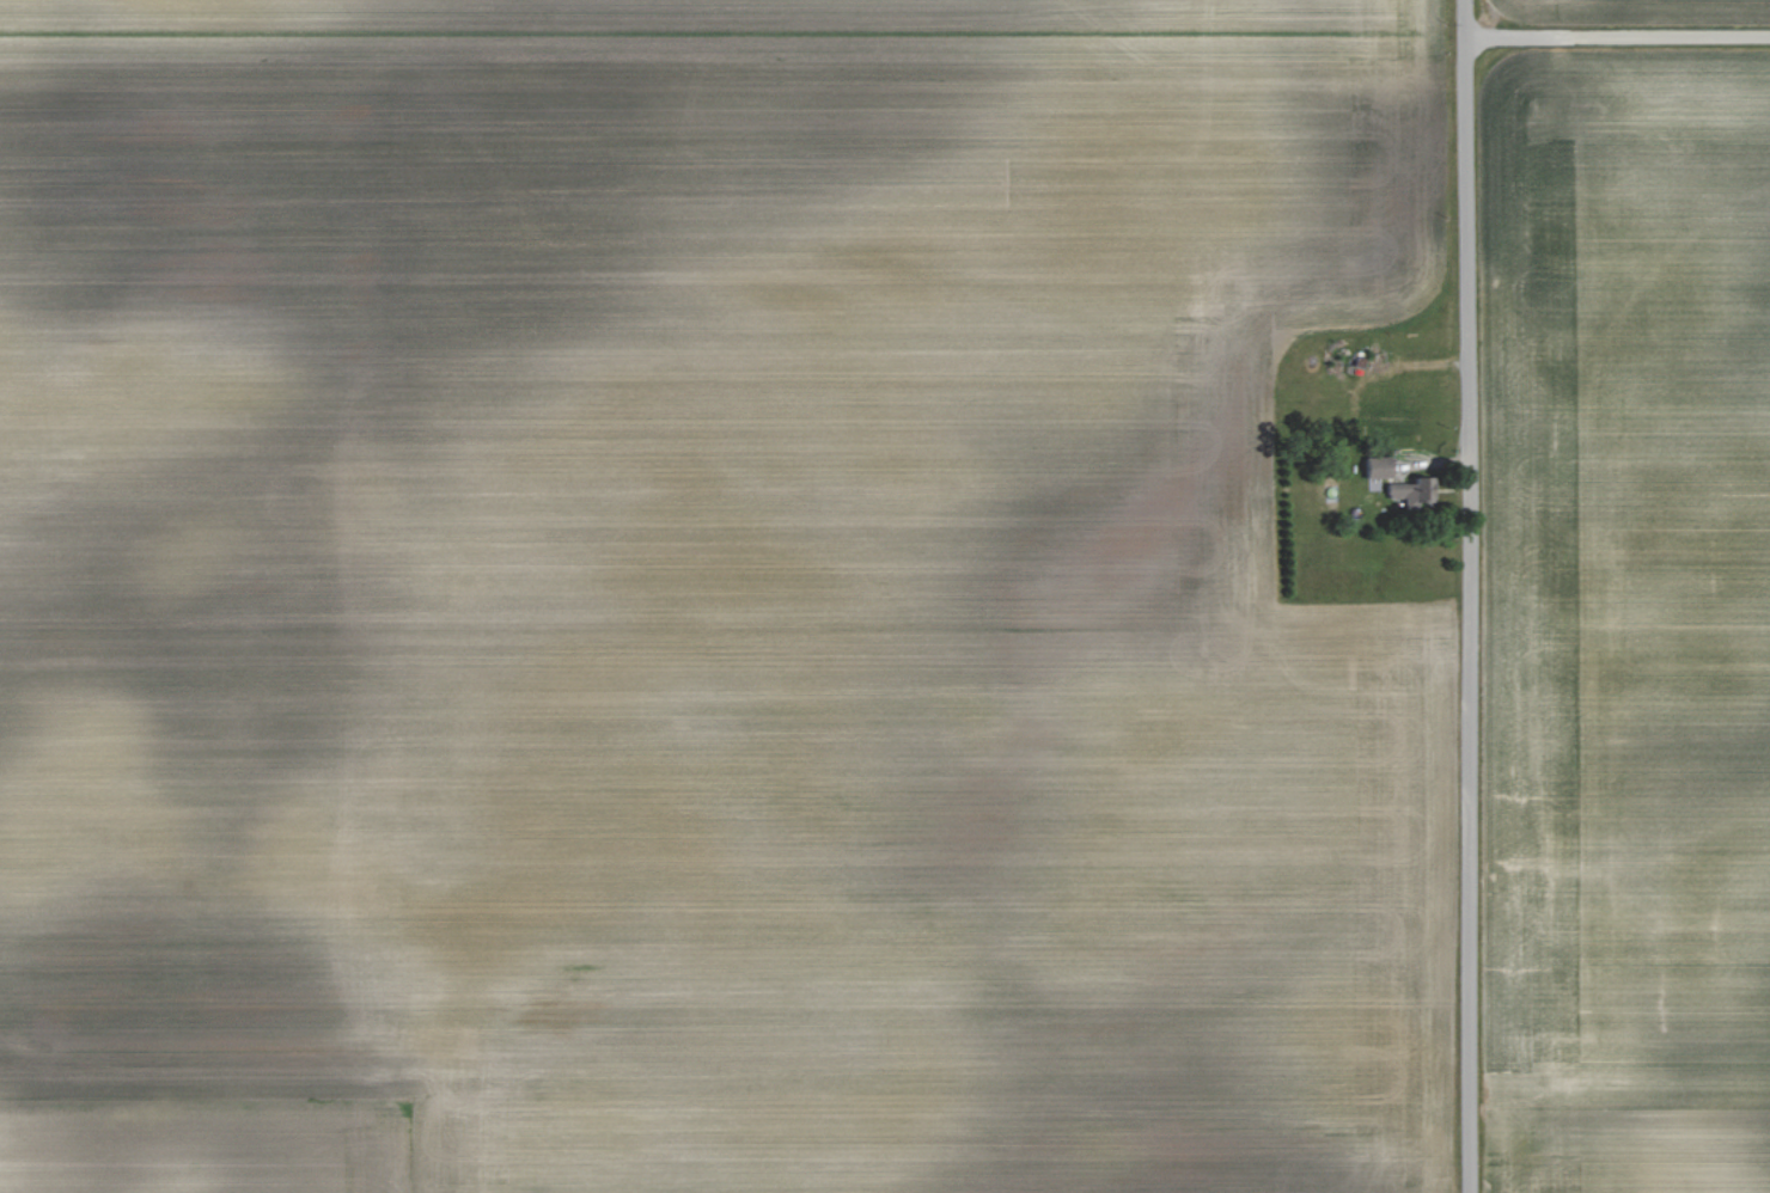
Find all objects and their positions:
road: (1613, 17)
building: (1373, 466)
building: (1410, 493)
road: (1460, 595)

